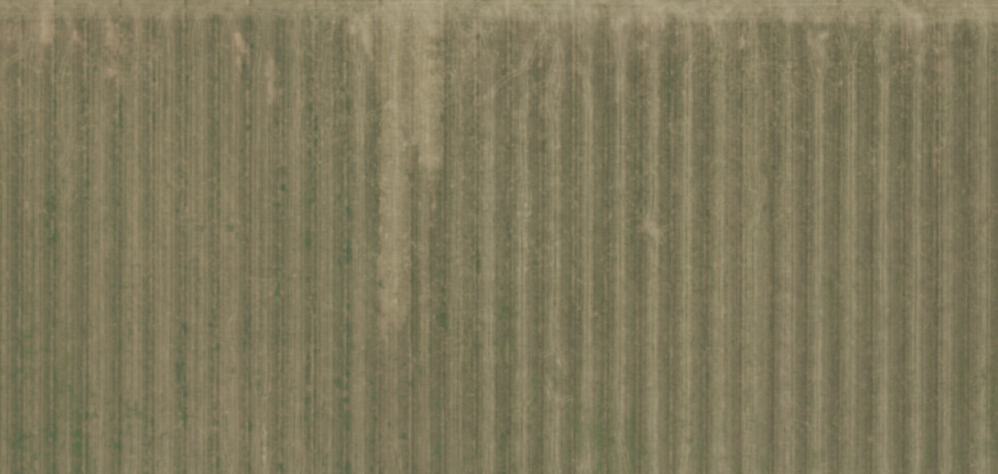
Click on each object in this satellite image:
crop: (499, 237)

